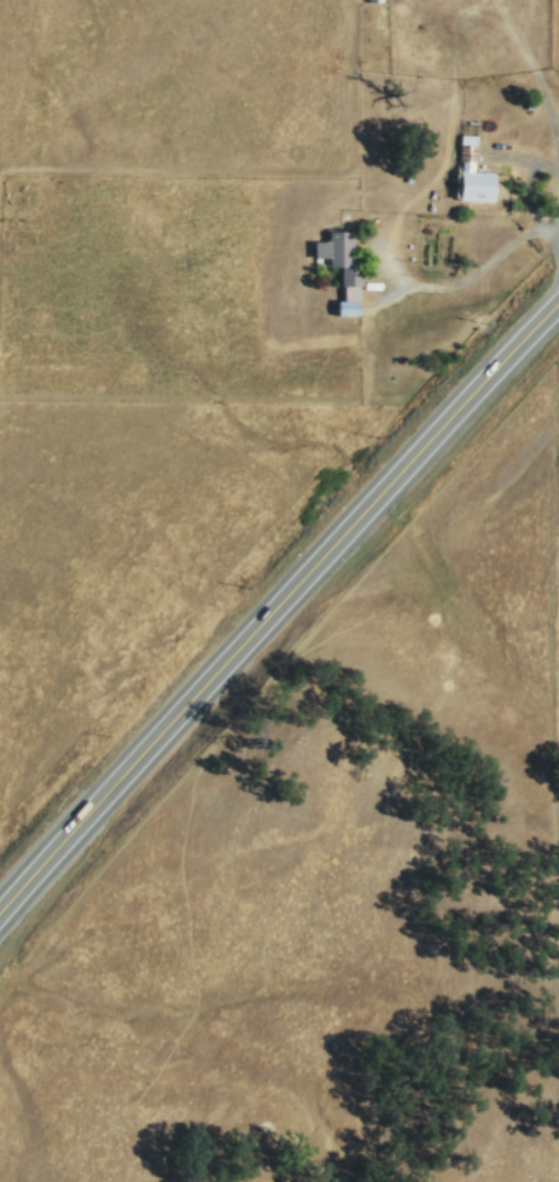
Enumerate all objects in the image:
building: (372, 0)
road: (548, 111)
building: (470, 173)
road: (395, 213)
building: (337, 259)
road: (278, 601)

